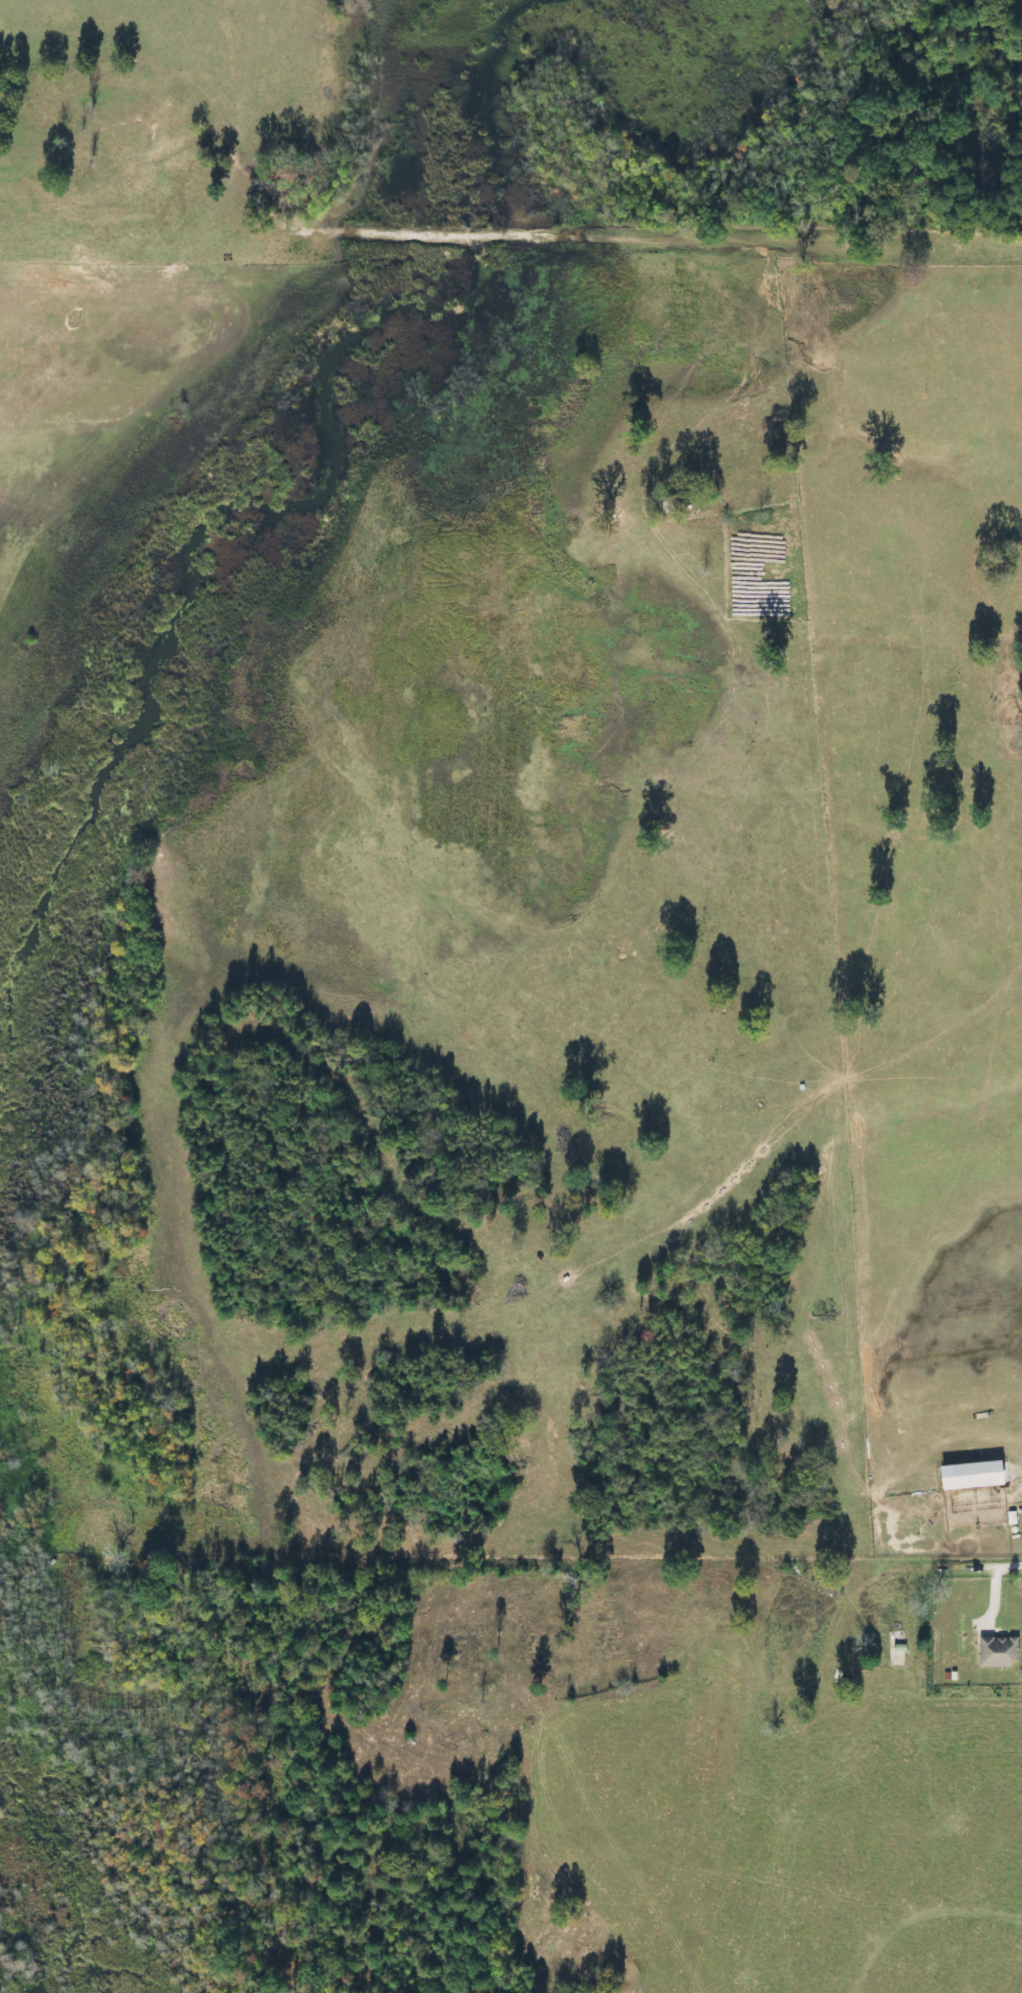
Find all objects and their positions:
building: (979, 1476)
road: (839, 1504)
building: (1002, 1653)

